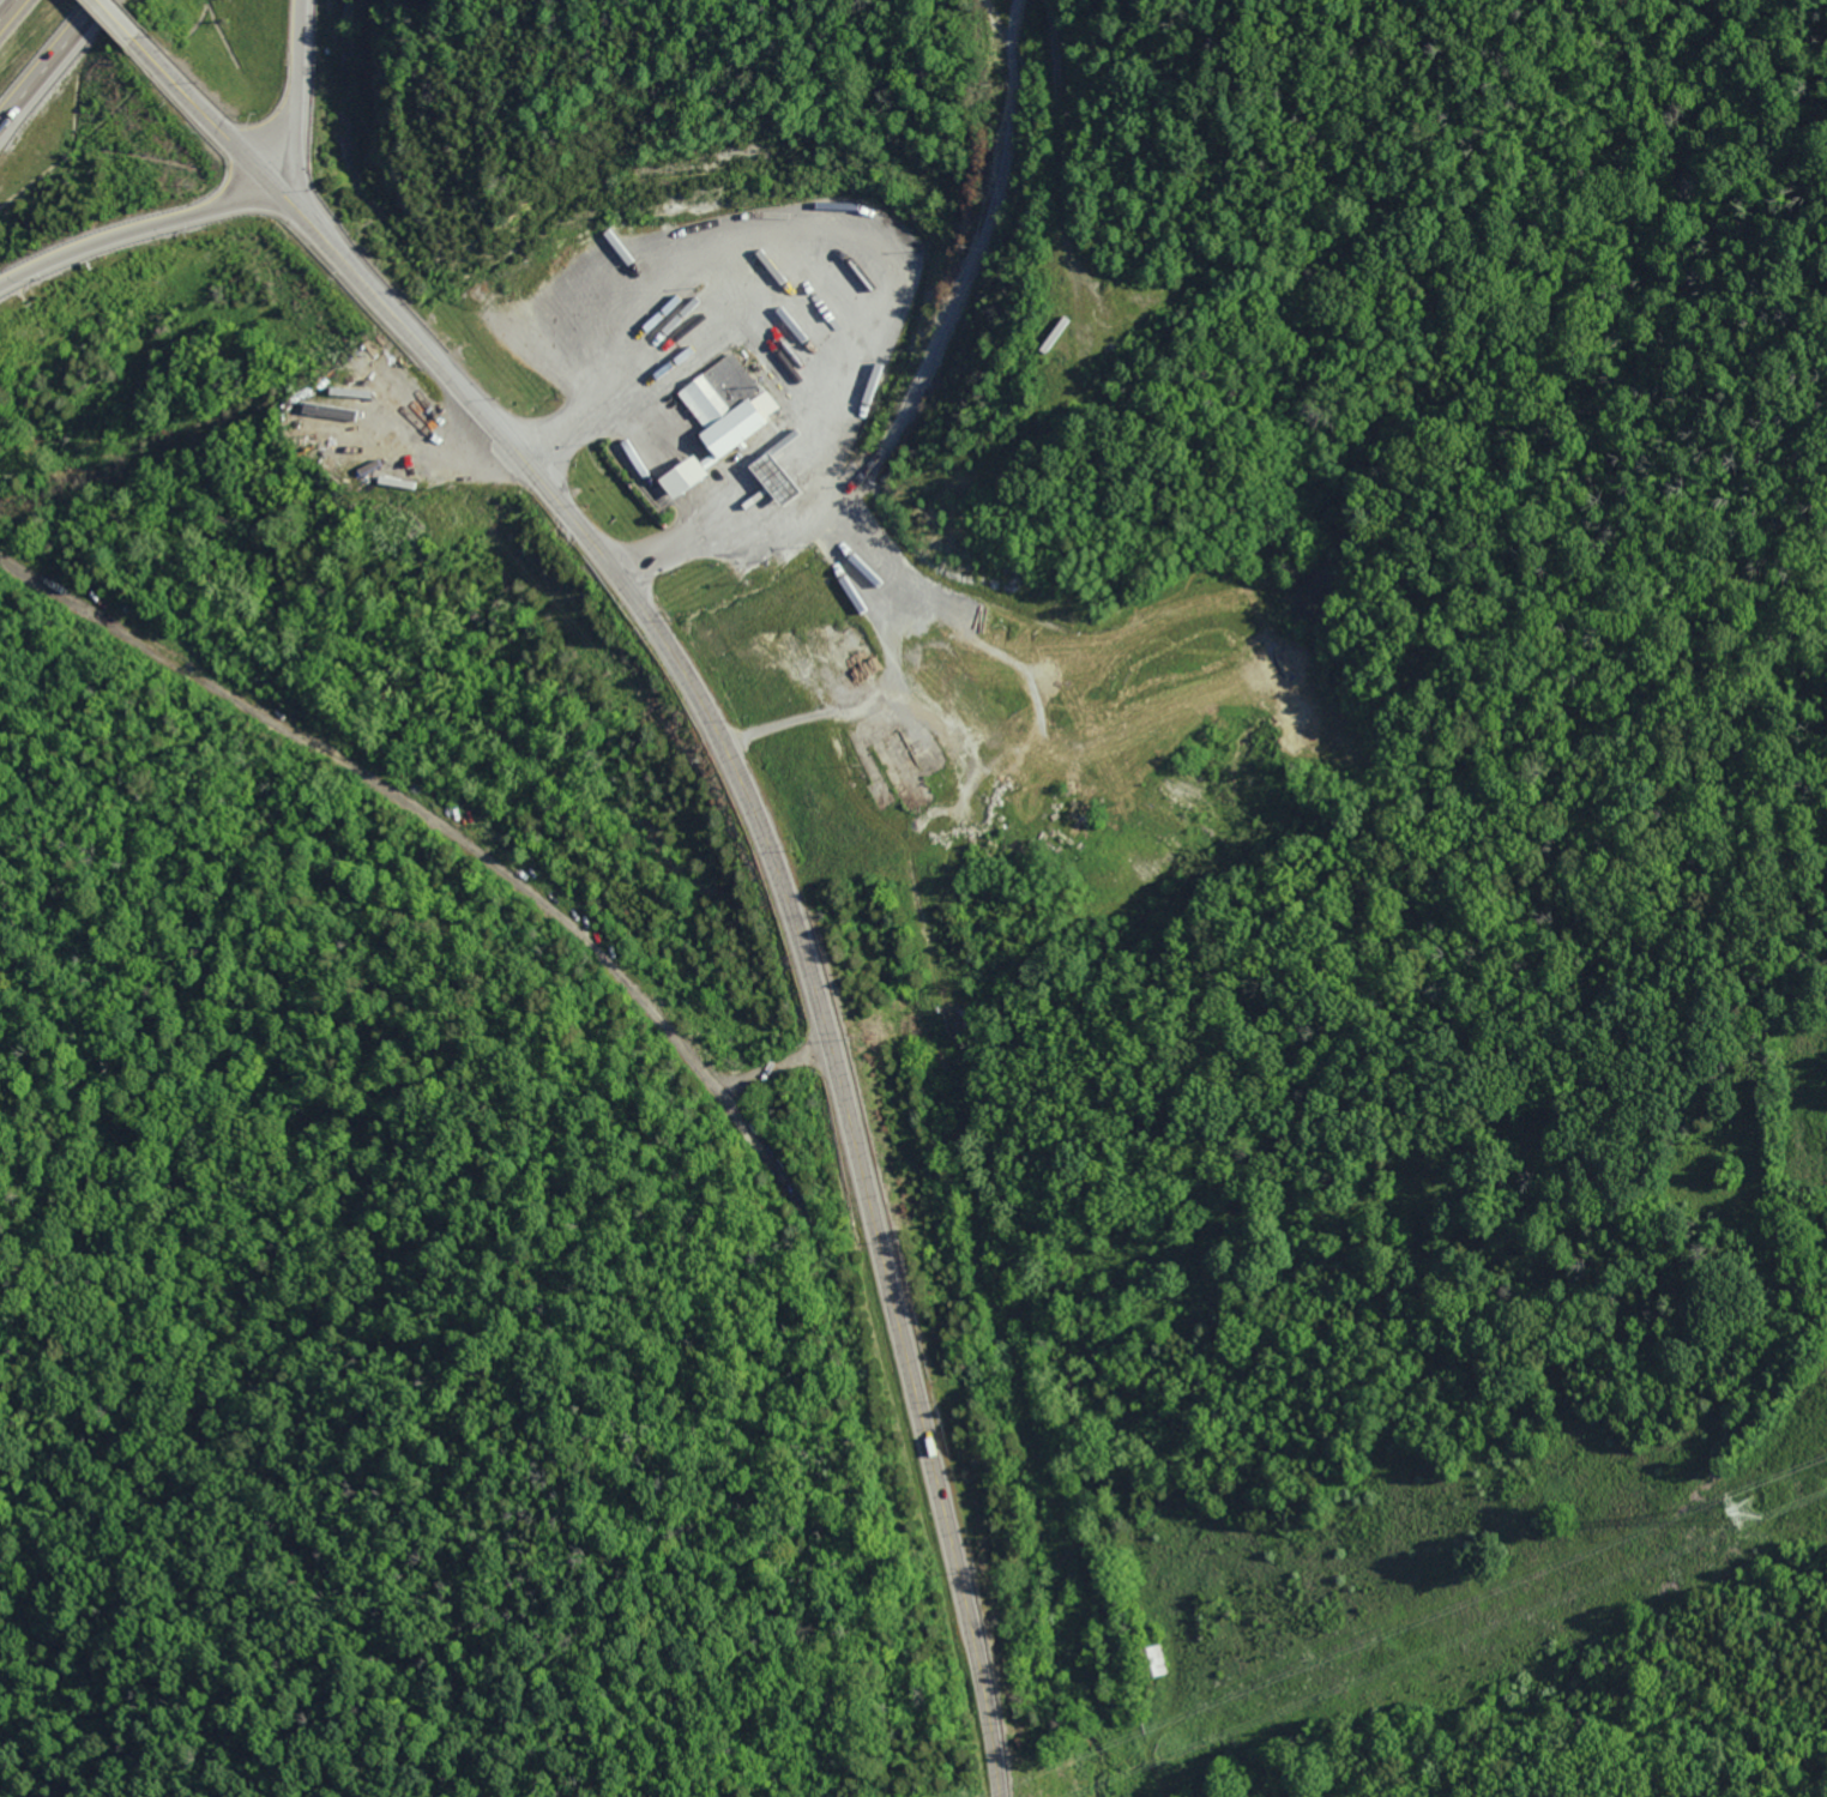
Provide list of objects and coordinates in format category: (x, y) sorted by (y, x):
road: (6, 7)
road: (126, 28)
road: (53, 66)
road: (296, 92)
road: (295, 159)
road: (133, 233)
road: (839, 273)
building: (685, 339)
building: (725, 406)
road: (880, 423)
building: (682, 477)
road: (424, 826)
road: (765, 832)
power tower: (1745, 1509)

